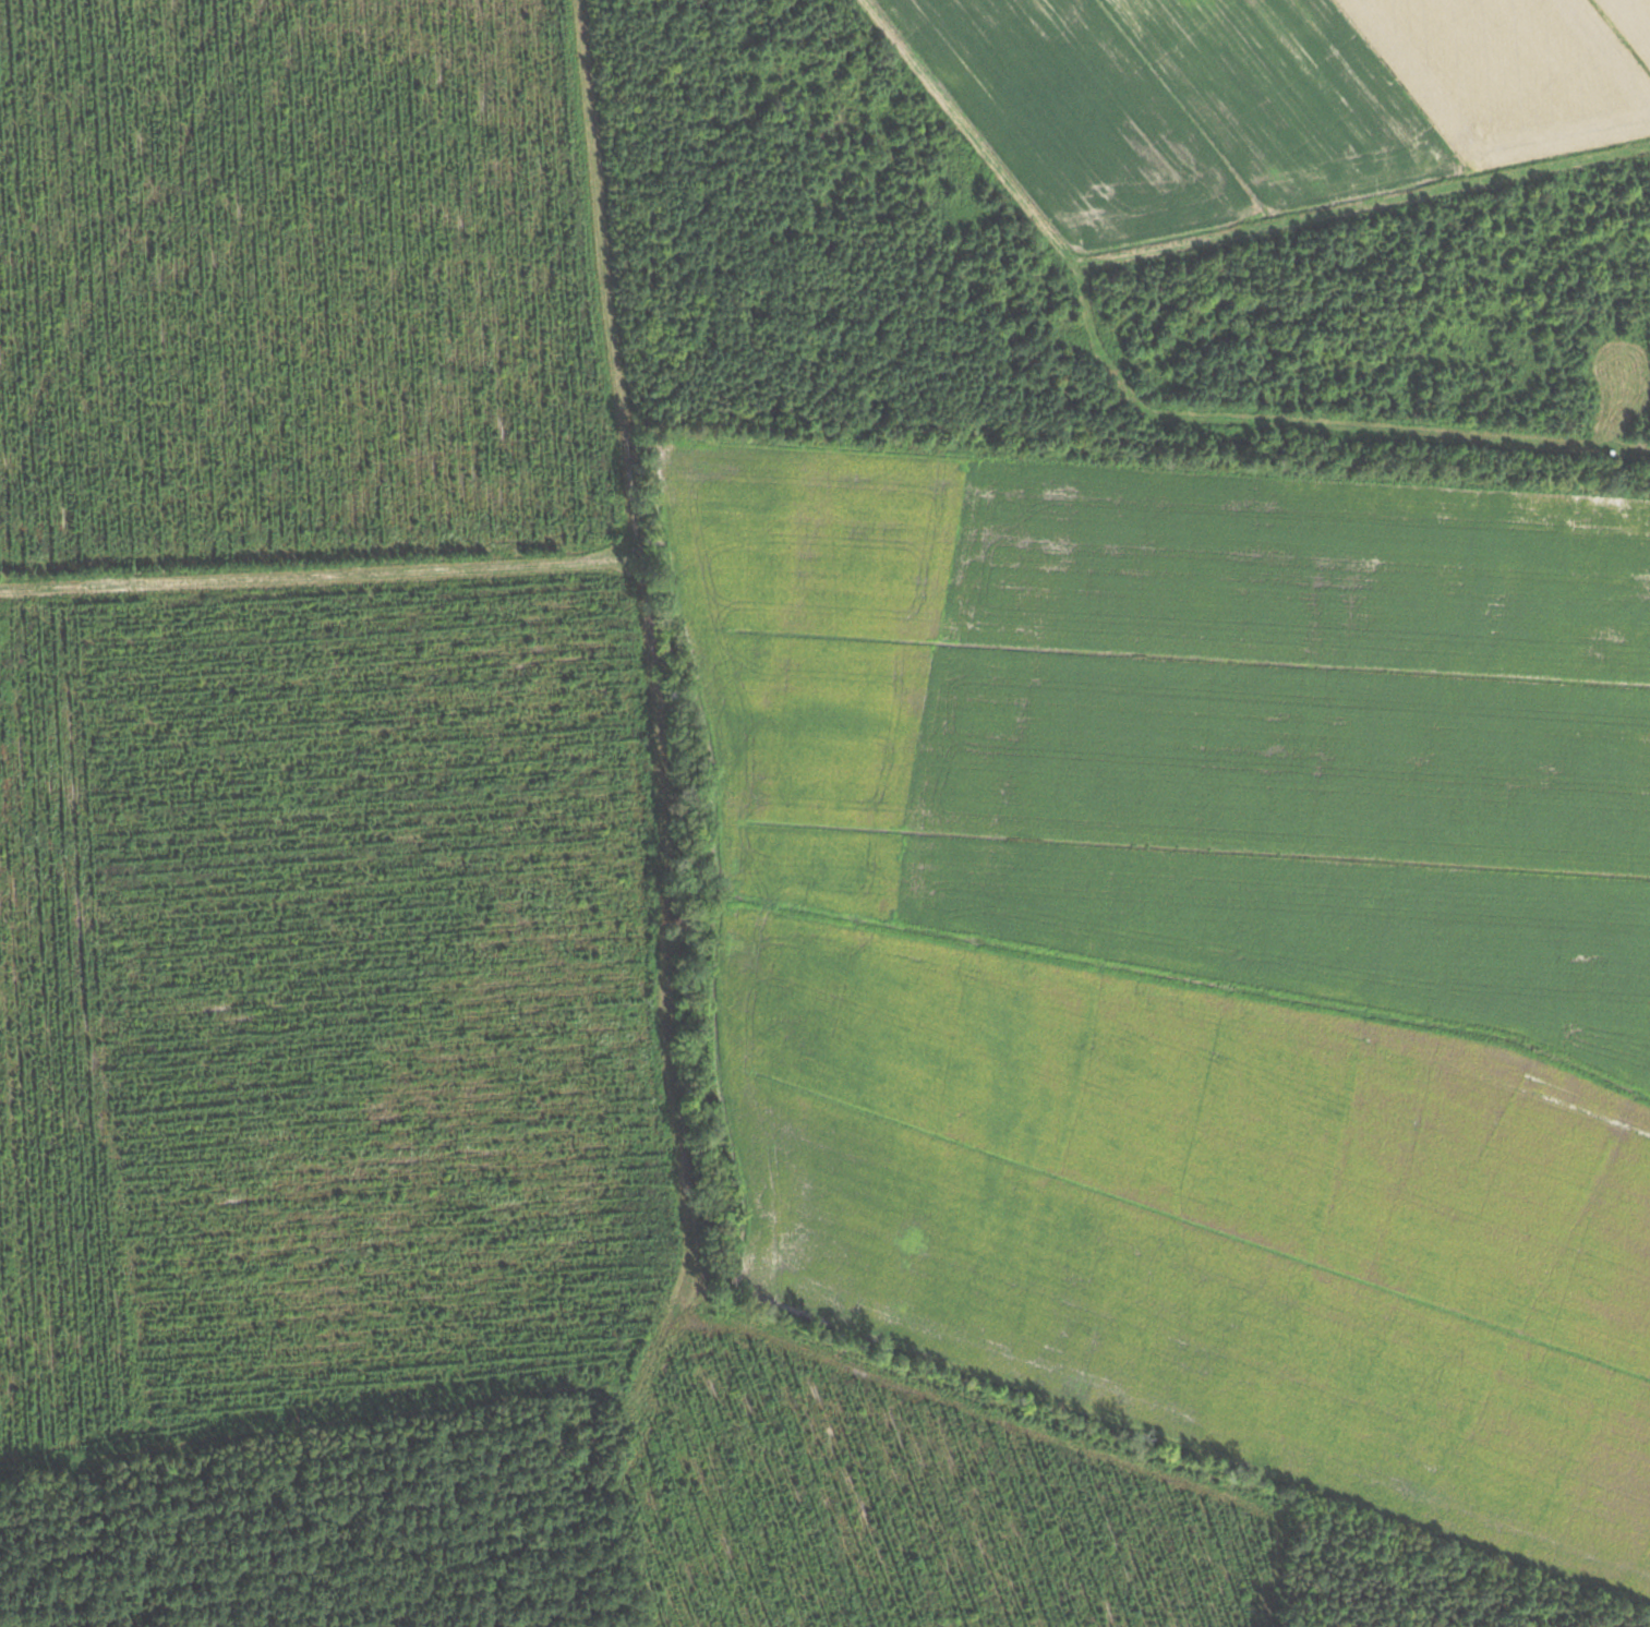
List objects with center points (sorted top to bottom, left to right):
road: (308, 576)

